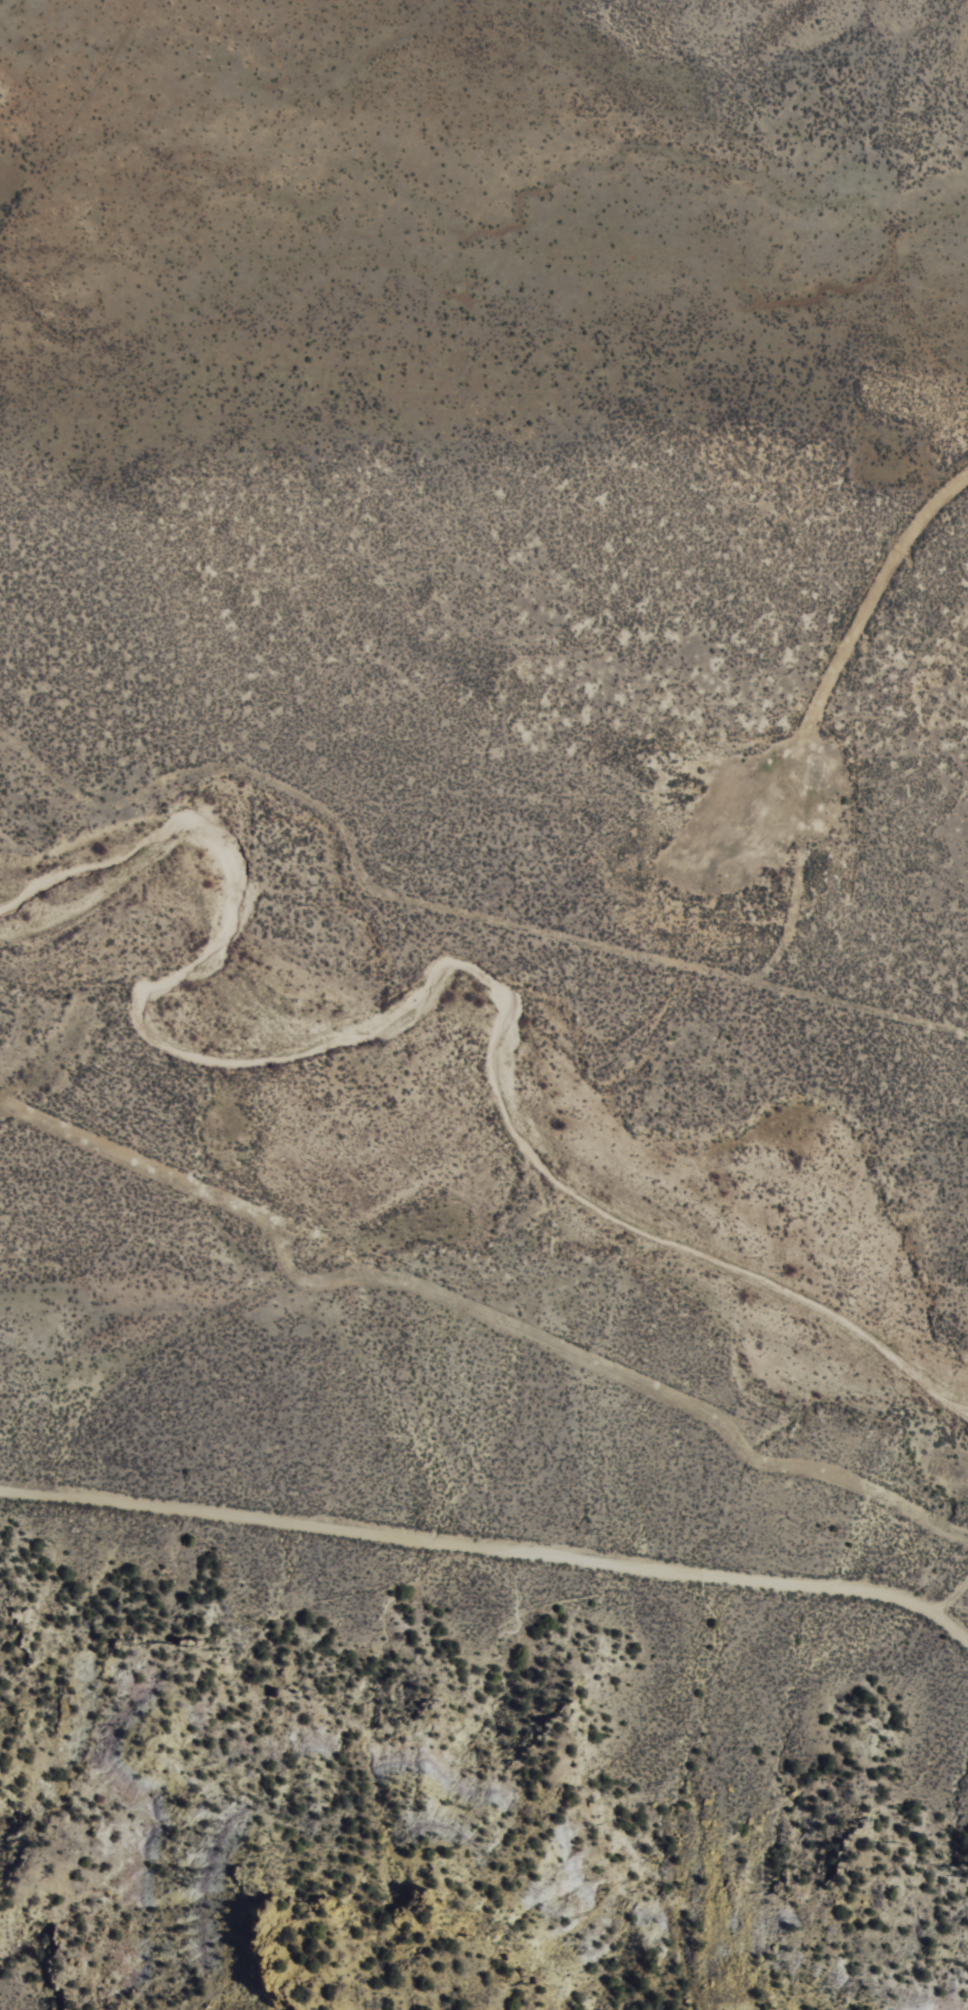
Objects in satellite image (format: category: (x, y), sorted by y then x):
road: (936, 198)
road: (604, 1064)
river: (515, 1077)
road: (484, 1539)

